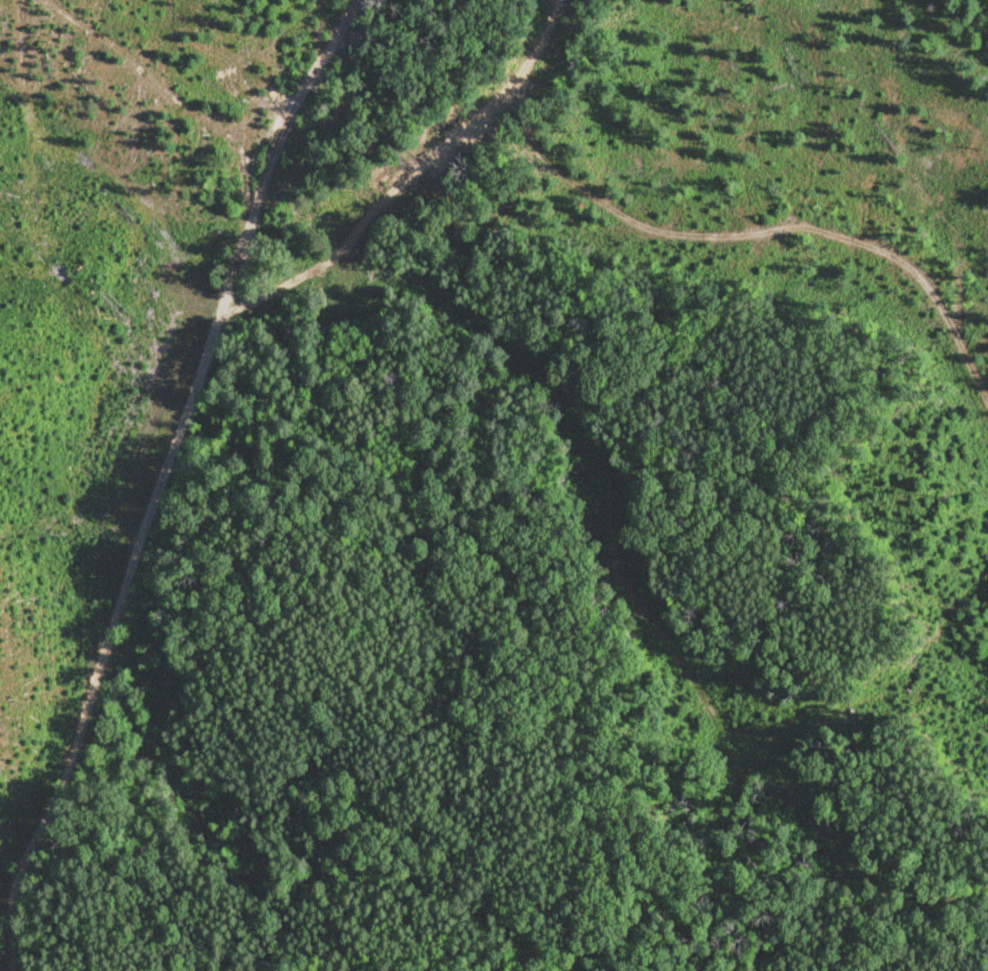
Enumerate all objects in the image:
road: (405, 177)
road: (163, 479)

